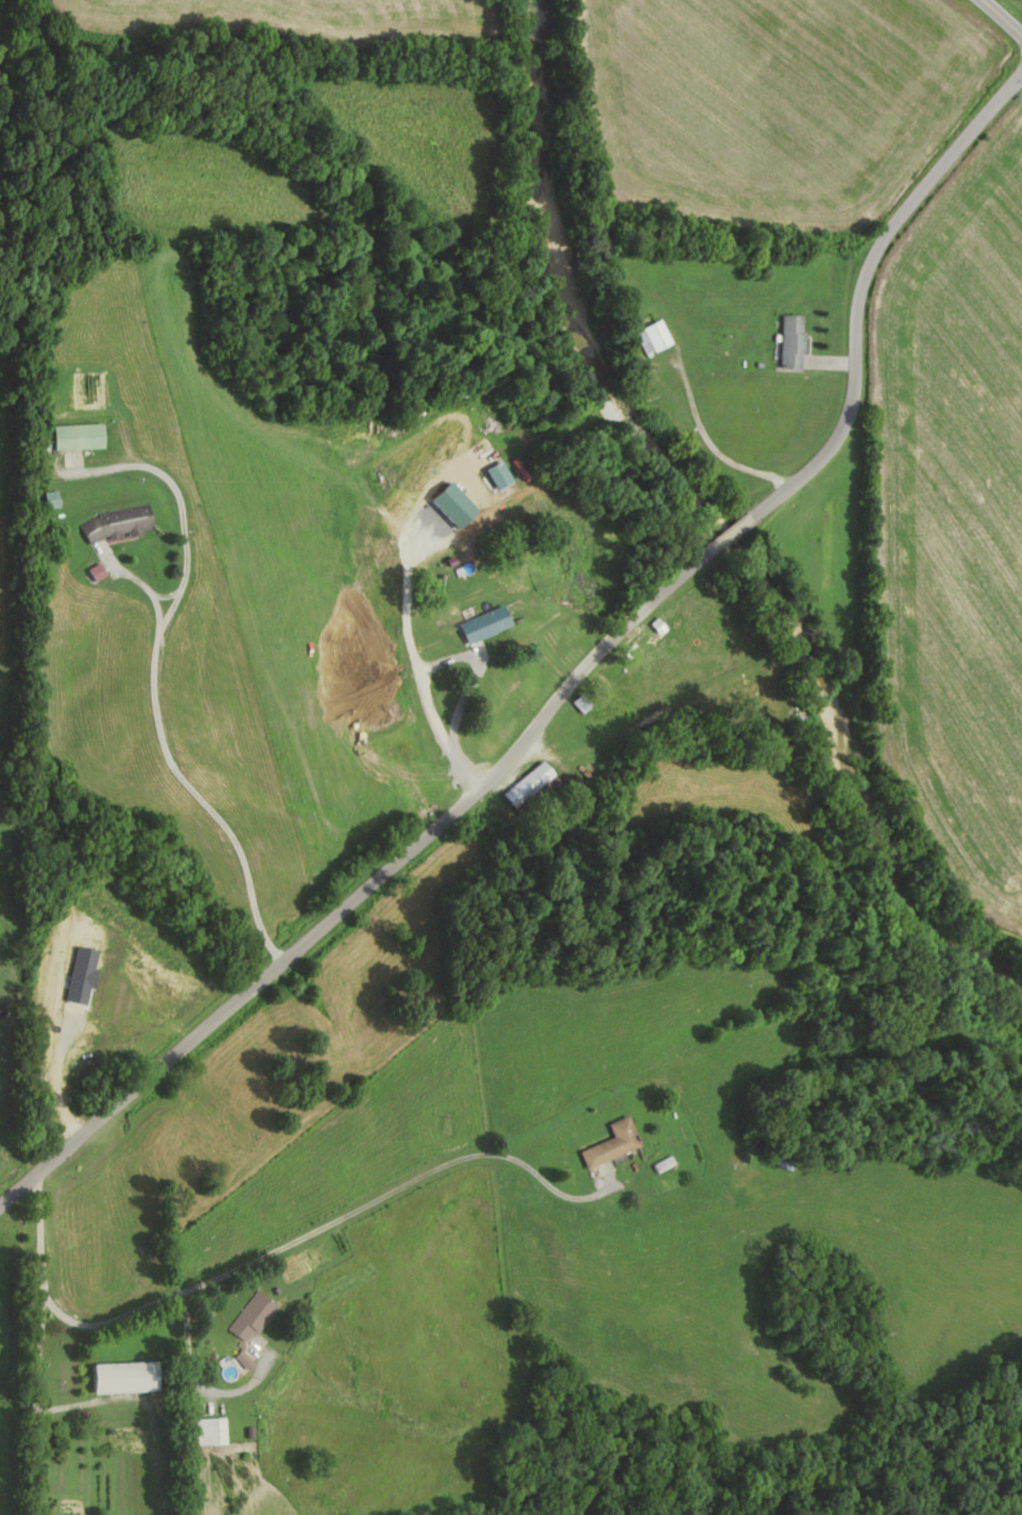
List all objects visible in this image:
road: (1002, 18)
building: (654, 337)
building: (792, 341)
building: (80, 436)
road: (711, 445)
building: (118, 523)
building: (488, 624)
building: (669, 646)
road: (582, 678)
road: (430, 711)
building: (527, 783)
building: (614, 1143)
building: (253, 1314)
road: (190, 1330)
building: (128, 1376)
building: (213, 1430)
road: (67, 1461)

